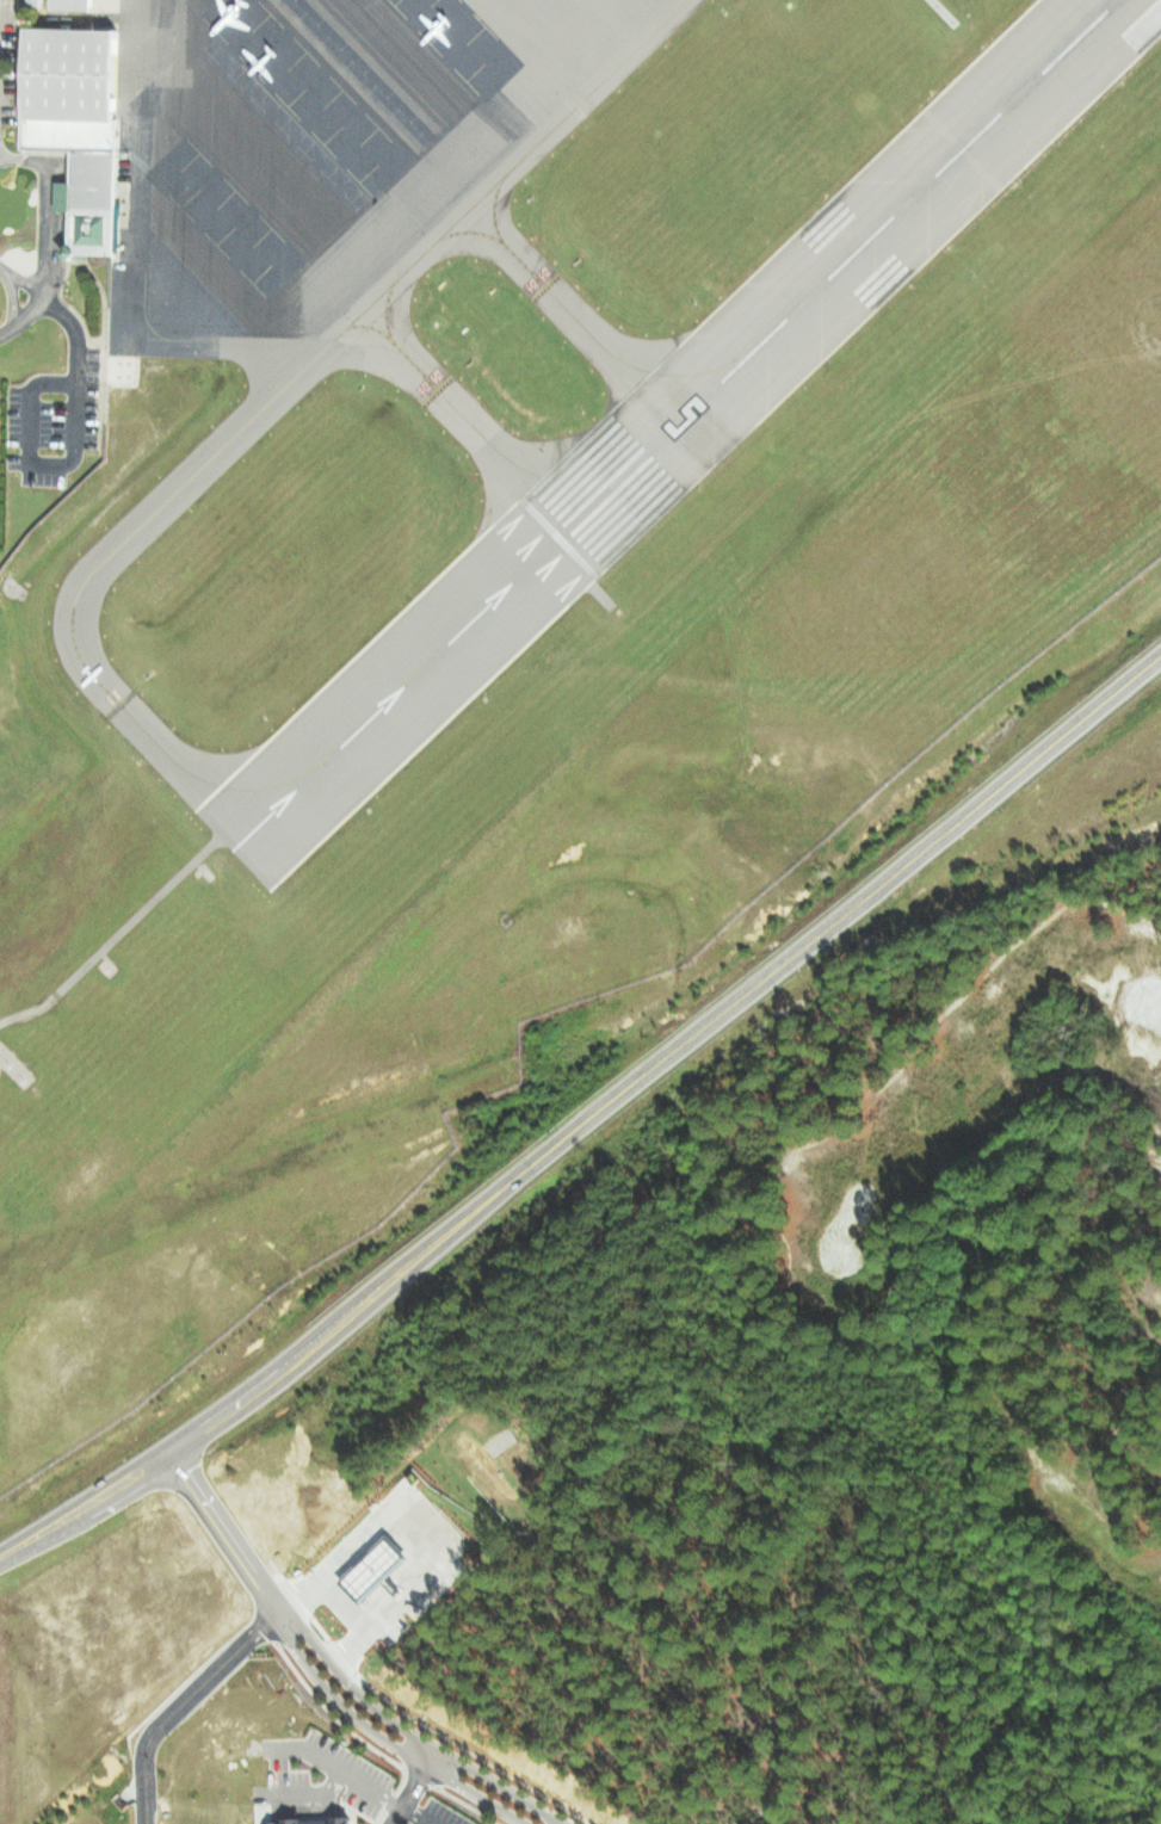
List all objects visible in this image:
building: (74, 4)
airport terminal: (67, 87)
building: (67, 87)
airport taxiway: (578, 103)
airport apron: (280, 143)
airport hangar: (92, 179)
building: (92, 179)
airport taxiway: (493, 205)
road: (50, 220)
airport taxiway: (471, 230)
building: (91, 231)
airport runway: (840, 264)
road: (11, 291)
airport taxiway: (385, 310)
airport taxiway: (573, 315)
road: (10, 322)
airport taxiway: (413, 364)
airport taxiway: (671, 367)
parking lot: (53, 421)
airport taxiway: (554, 474)
airport: (499, 570)
airport taxiway: (136, 723)
road: (586, 1103)
park: (844, 1257)
road: (223, 1535)
road: (178, 1704)
road: (408, 1748)
road: (431, 1757)
road: (462, 1767)
road: (408, 1791)
road: (415, 1814)
building: (319, 1820)
building: (278, 1822)

